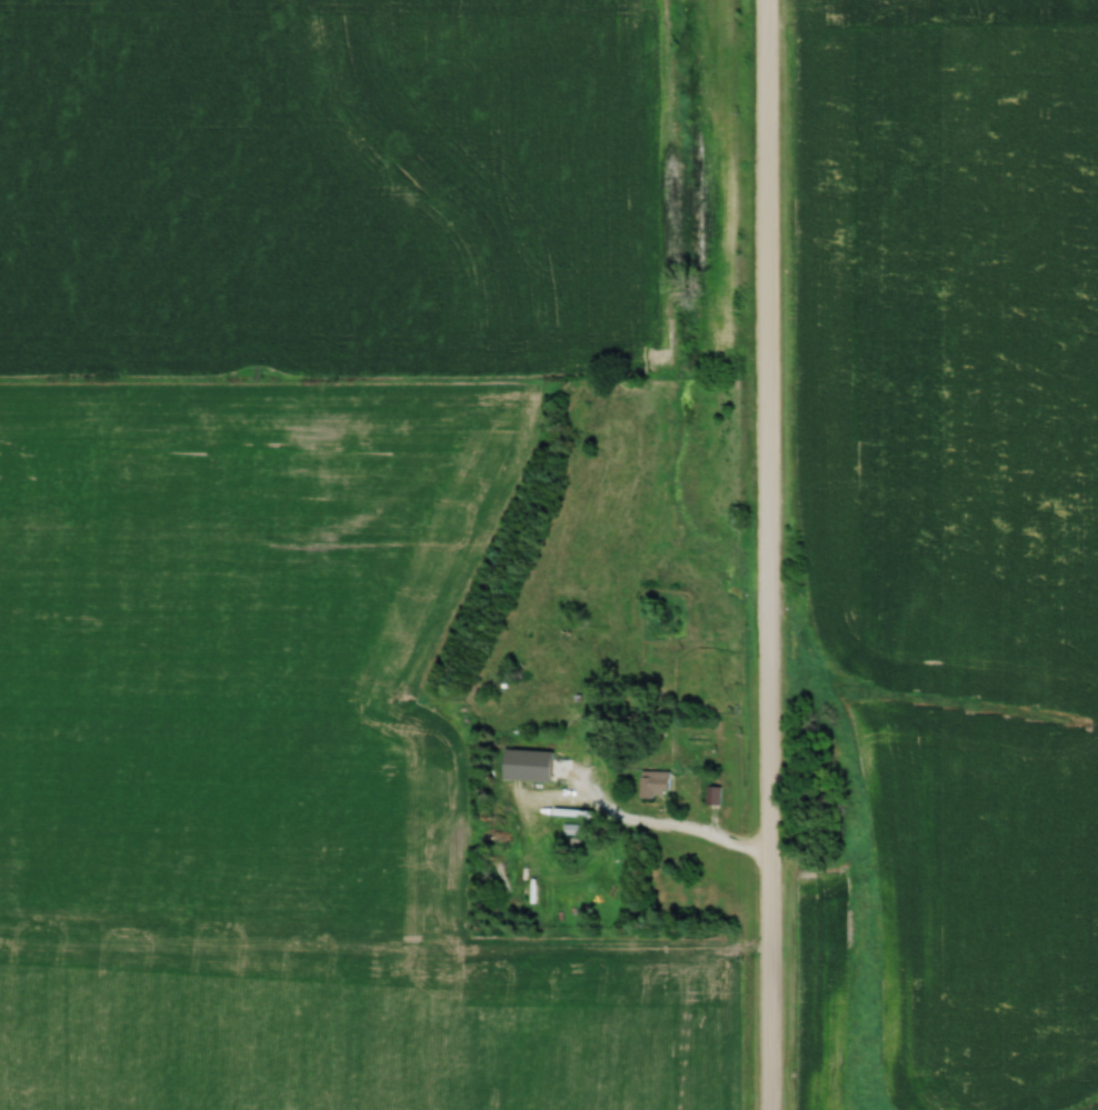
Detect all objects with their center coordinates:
road: (769, 554)
building: (658, 786)
building: (572, 830)
road: (706, 837)

